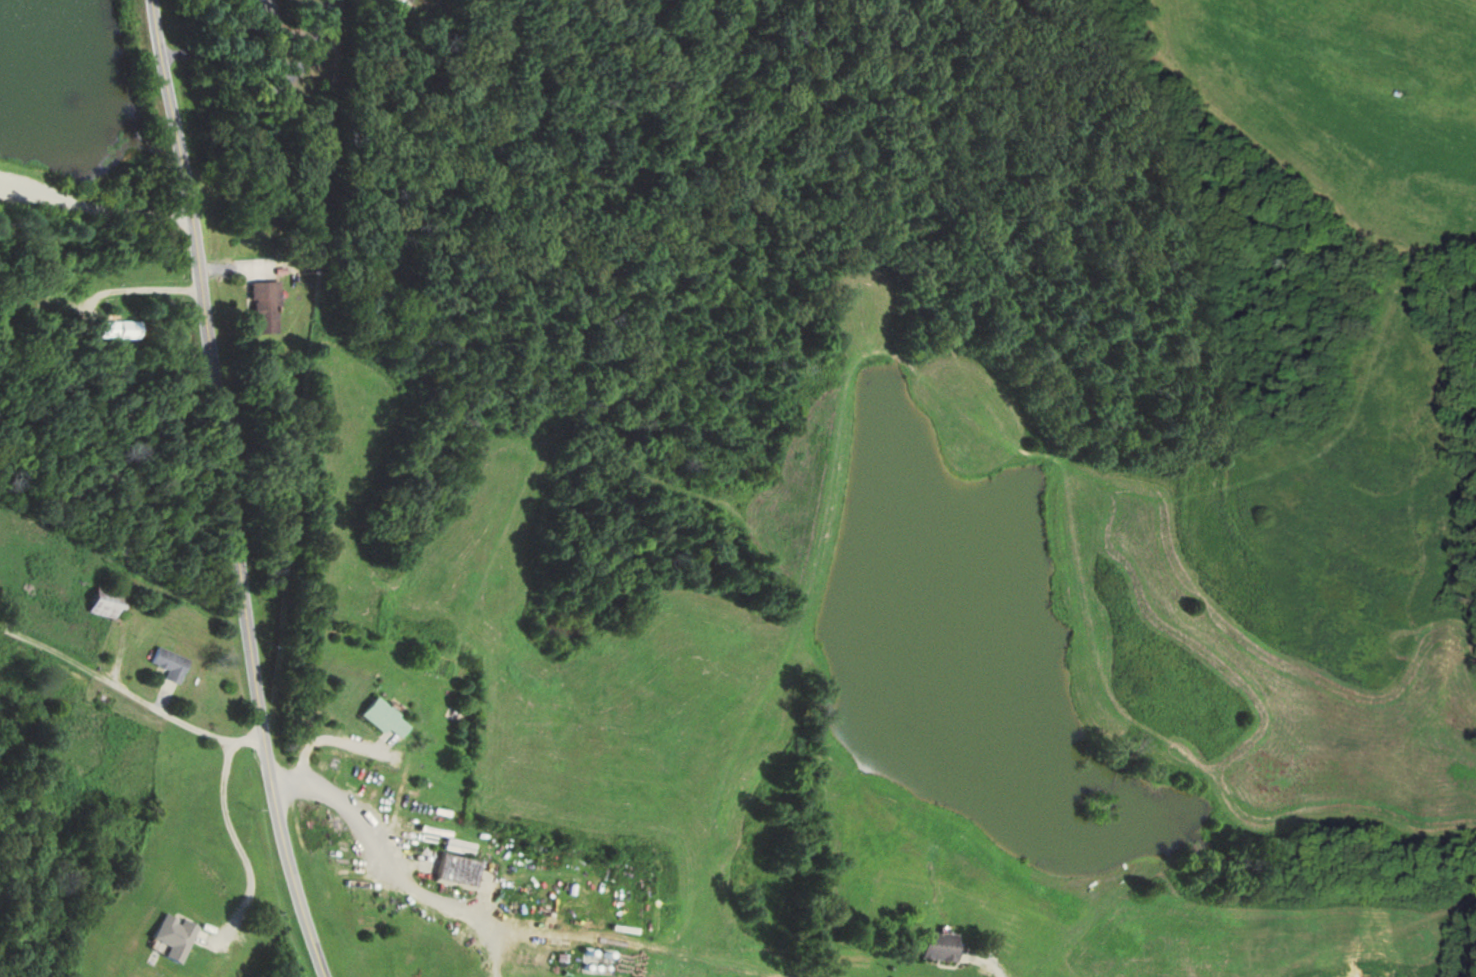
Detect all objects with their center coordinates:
road: (96, 207)
building: (267, 305)
building: (121, 331)
road: (231, 491)
building: (105, 601)
building: (171, 663)
building: (388, 717)
building: (460, 862)
building: (179, 936)
building: (942, 945)
road: (990, 961)

